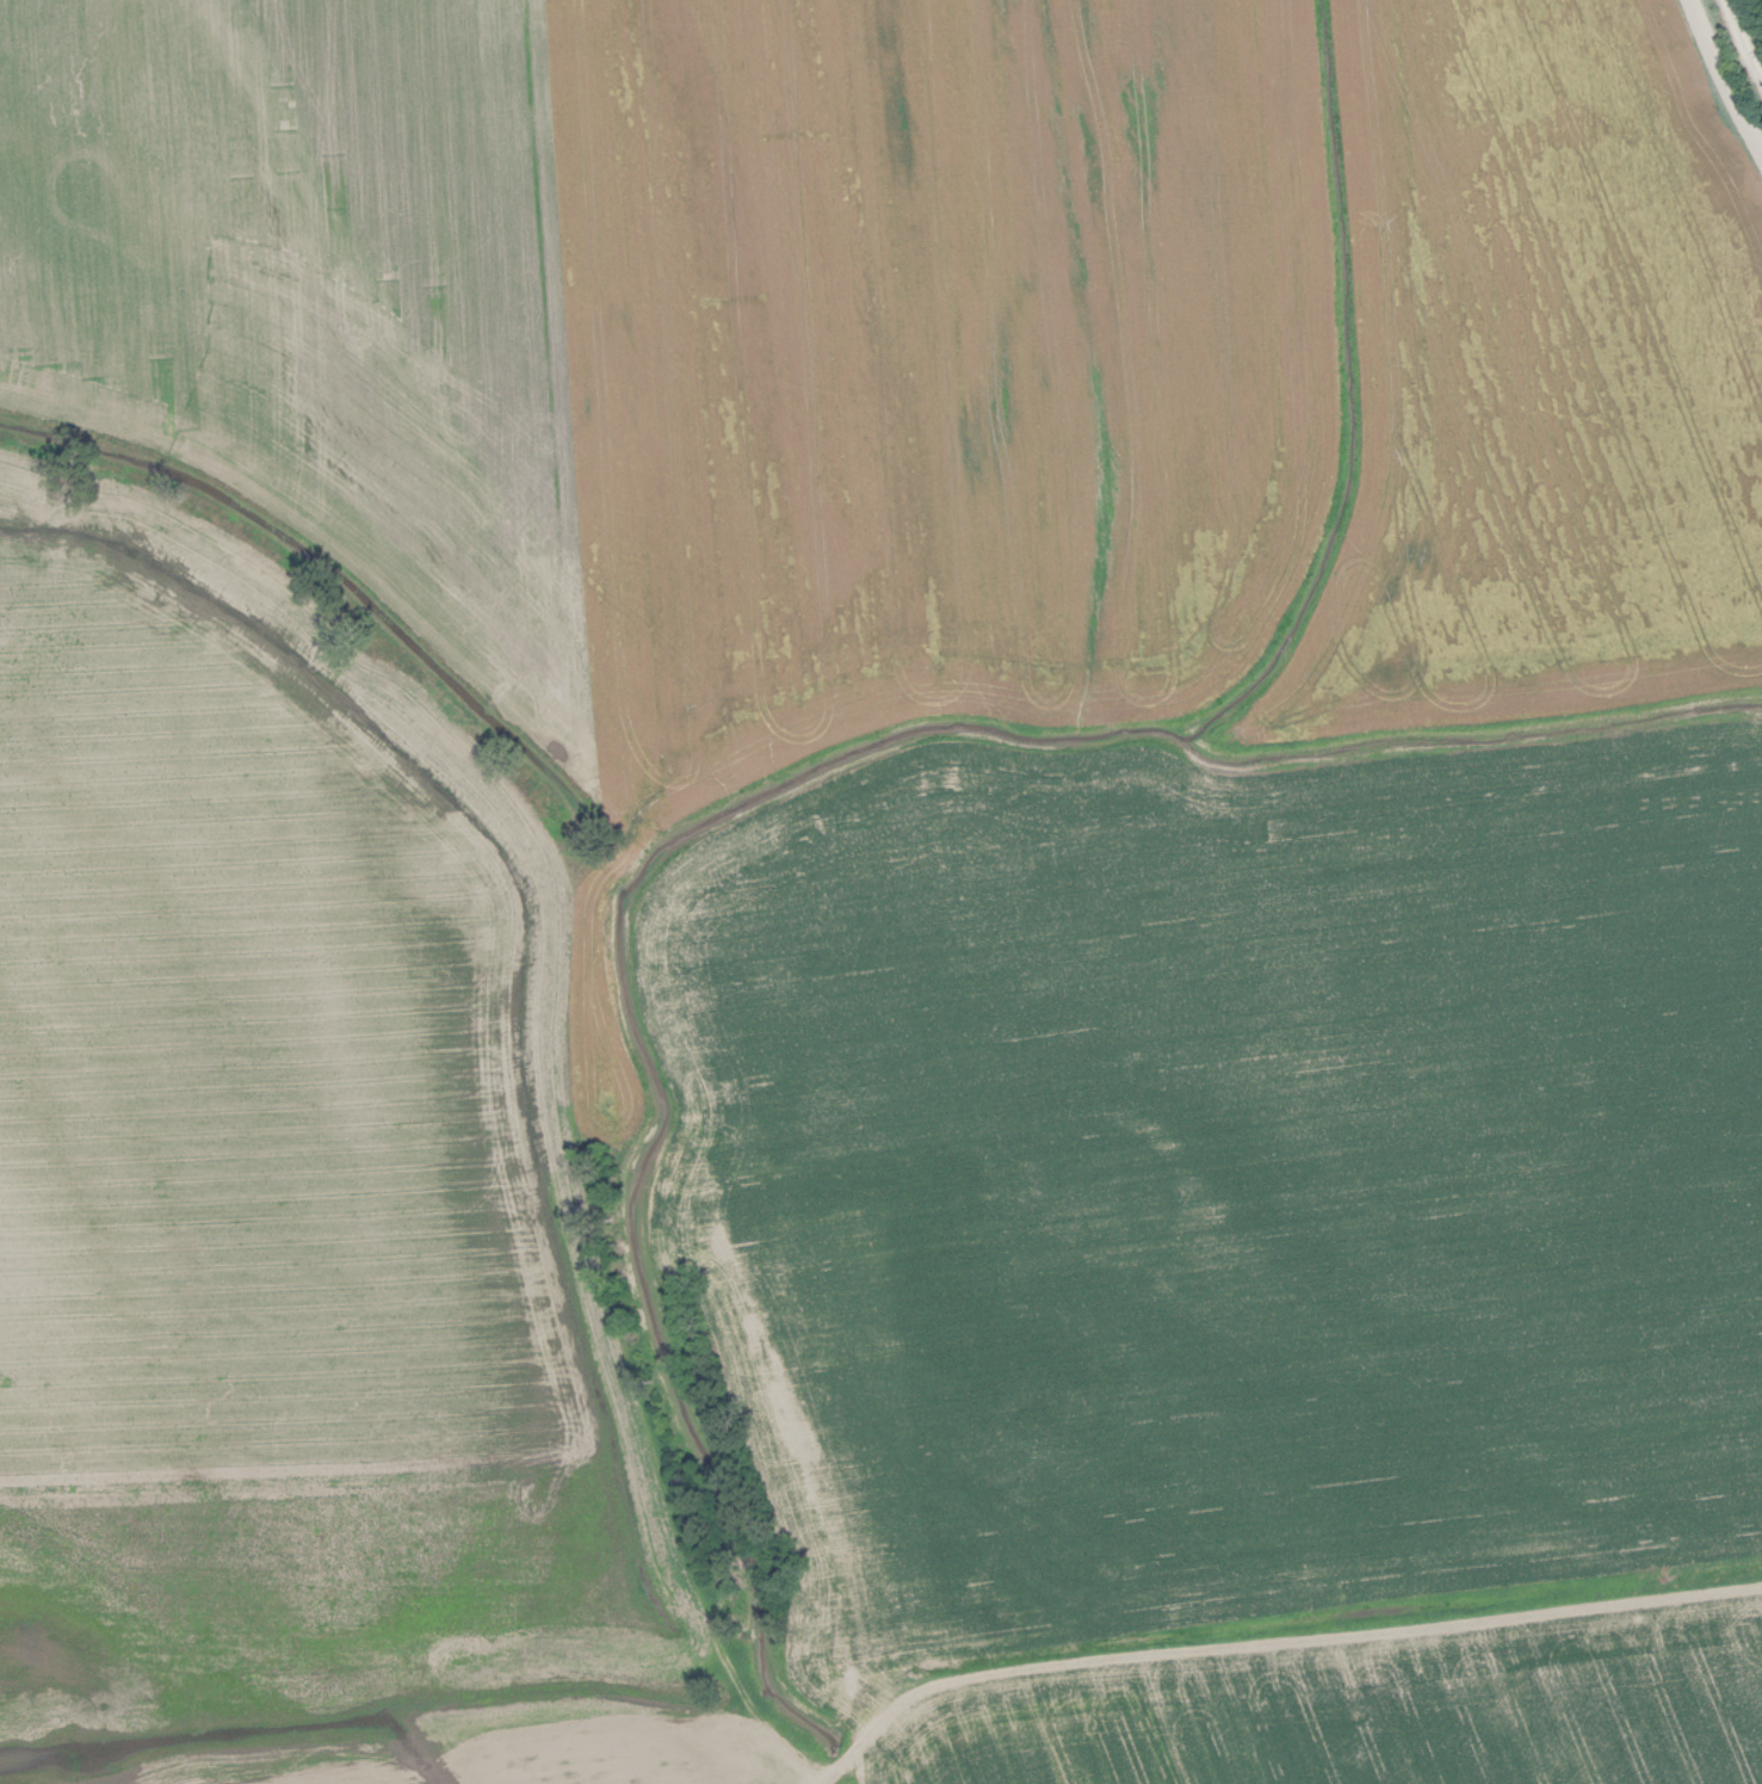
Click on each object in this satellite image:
road: (1745, 37)
road: (1720, 93)

